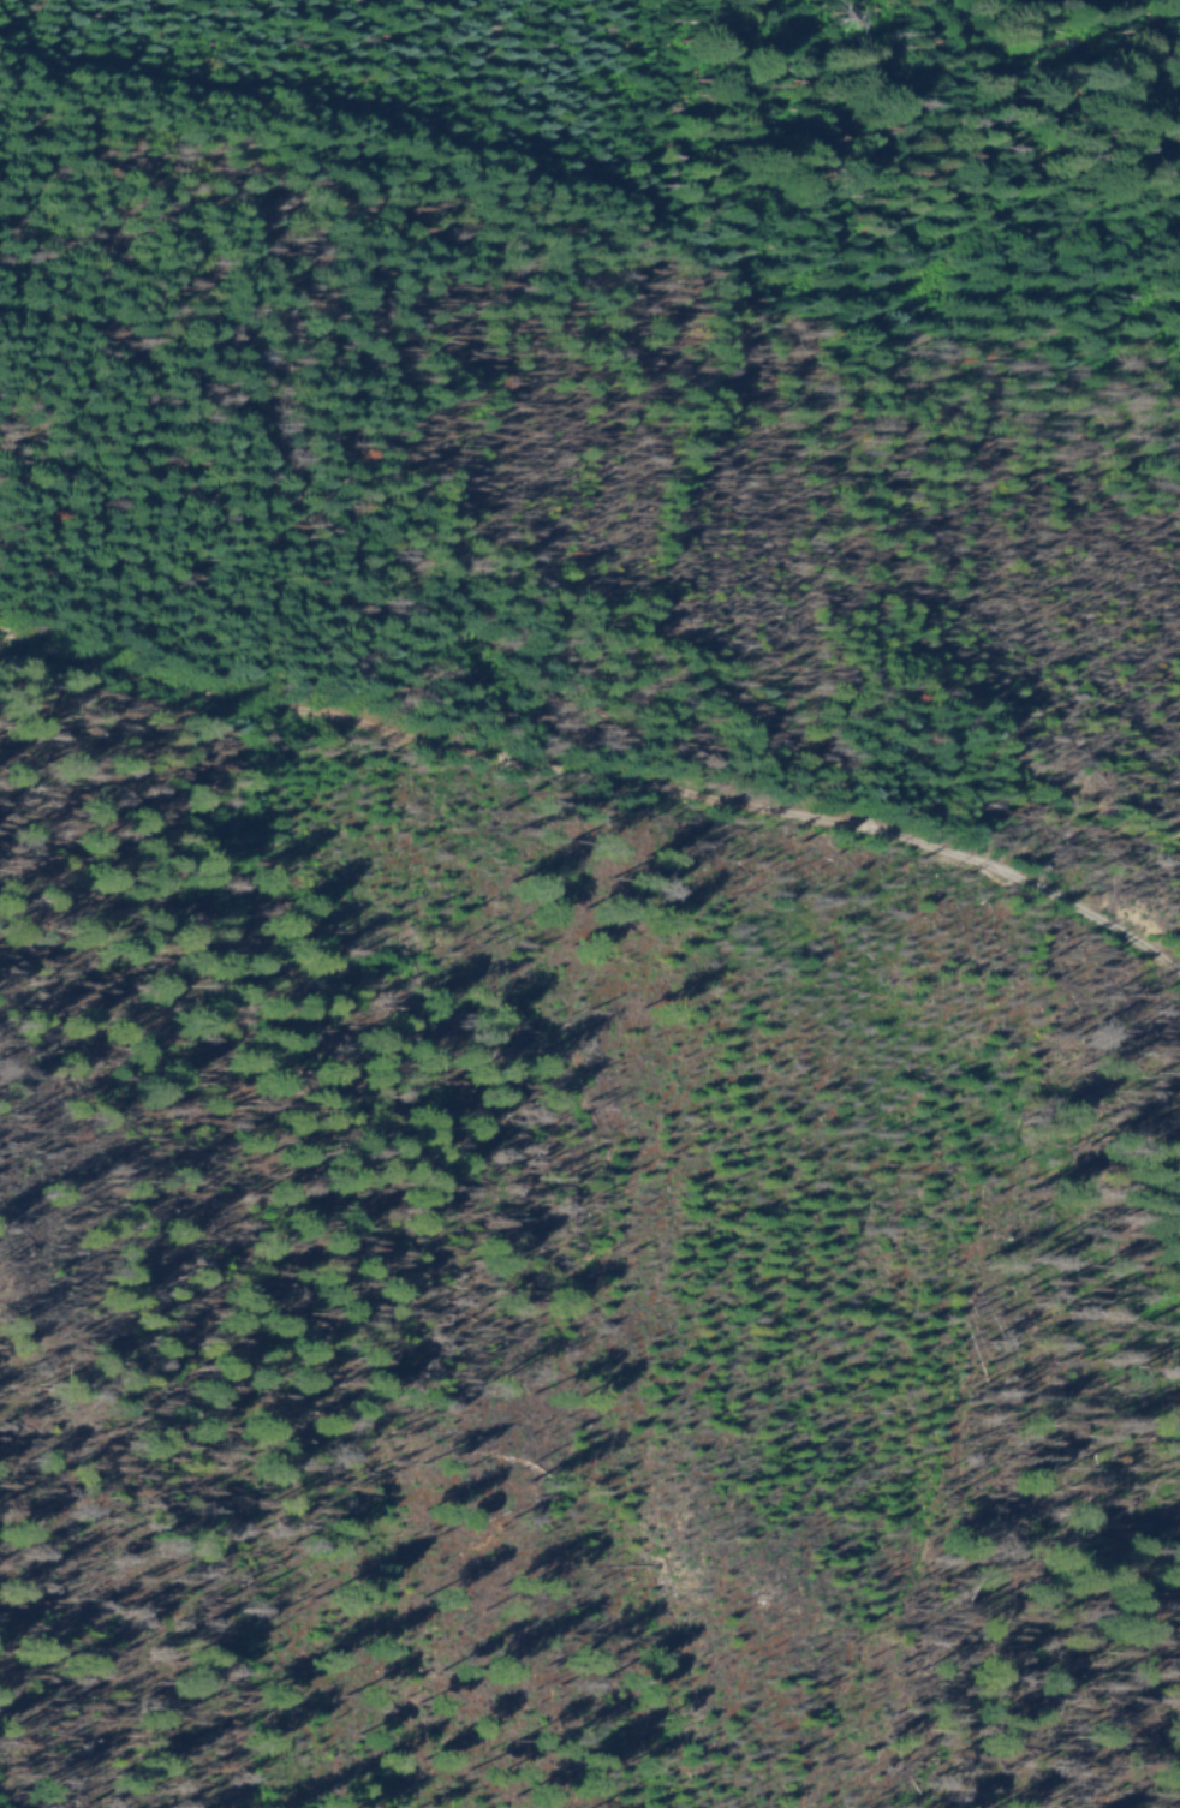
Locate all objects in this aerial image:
road: (601, 762)

